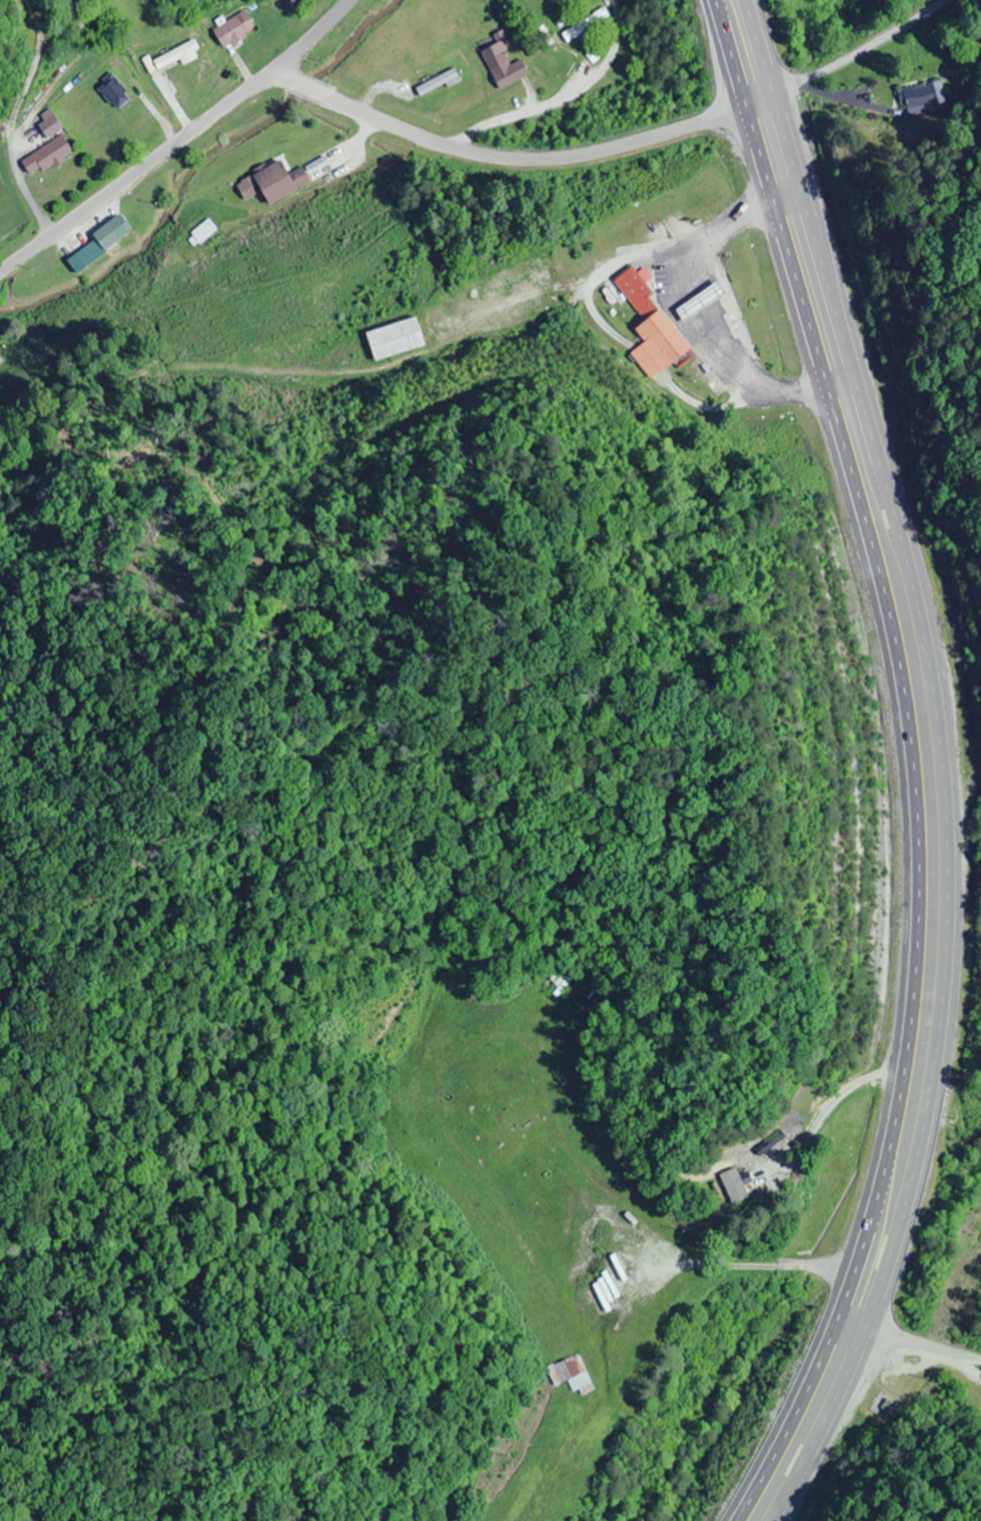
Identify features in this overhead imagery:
building: (585, 24)
building: (231, 29)
road: (862, 54)
building: (502, 61)
building: (436, 82)
building: (112, 92)
building: (920, 97)
building: (47, 124)
road: (176, 138)
building: (44, 156)
road: (514, 158)
building: (270, 183)
building: (202, 230)
building: (99, 241)
building: (698, 301)
building: (649, 327)
building: (392, 338)
road: (934, 763)
road: (905, 764)
building: (728, 1184)
road: (899, 1360)
building: (569, 1374)
road: (971, 1378)

